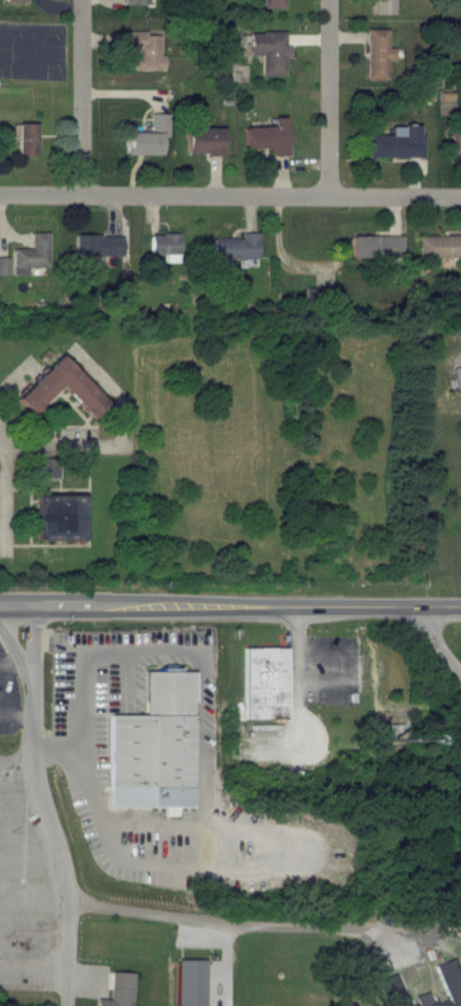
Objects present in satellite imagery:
building: (15, 1)
building: (30, 1)
building: (136, 2)
building: (274, 4)
building: (384, 7)
building: (144, 49)
building: (271, 51)
building: (378, 54)
road: (82, 98)
road: (327, 98)
building: (269, 136)
building: (147, 137)
building: (205, 140)
building: (456, 141)
building: (37, 142)
building: (396, 142)
road: (230, 196)
building: (163, 243)
building: (110, 246)
building: (179, 247)
building: (391, 247)
building: (447, 248)
building: (252, 252)
building: (44, 254)
building: (10, 267)
building: (334, 296)
building: (457, 376)
road: (118, 391)
building: (39, 393)
road: (1, 397)
parking lot: (61, 436)
road: (61, 445)
building: (47, 470)
road: (7, 498)
parking lot: (3, 512)
building: (61, 519)
road: (230, 607)
road: (435, 649)
road: (182, 653)
road: (346, 670)
parking lot: (332, 671)
road: (295, 673)
building: (265, 684)
parking lot: (68, 694)
parking lot: (10, 701)
parking lot: (206, 716)
parking lot: (96, 748)
building: (154, 748)
road: (41, 804)
parking lot: (97, 838)
parking lot: (159, 844)
parking lot: (260, 851)
road: (245, 871)
road: (251, 925)
building: (189, 982)
building: (445, 986)
building: (118, 991)
building: (391, 991)

